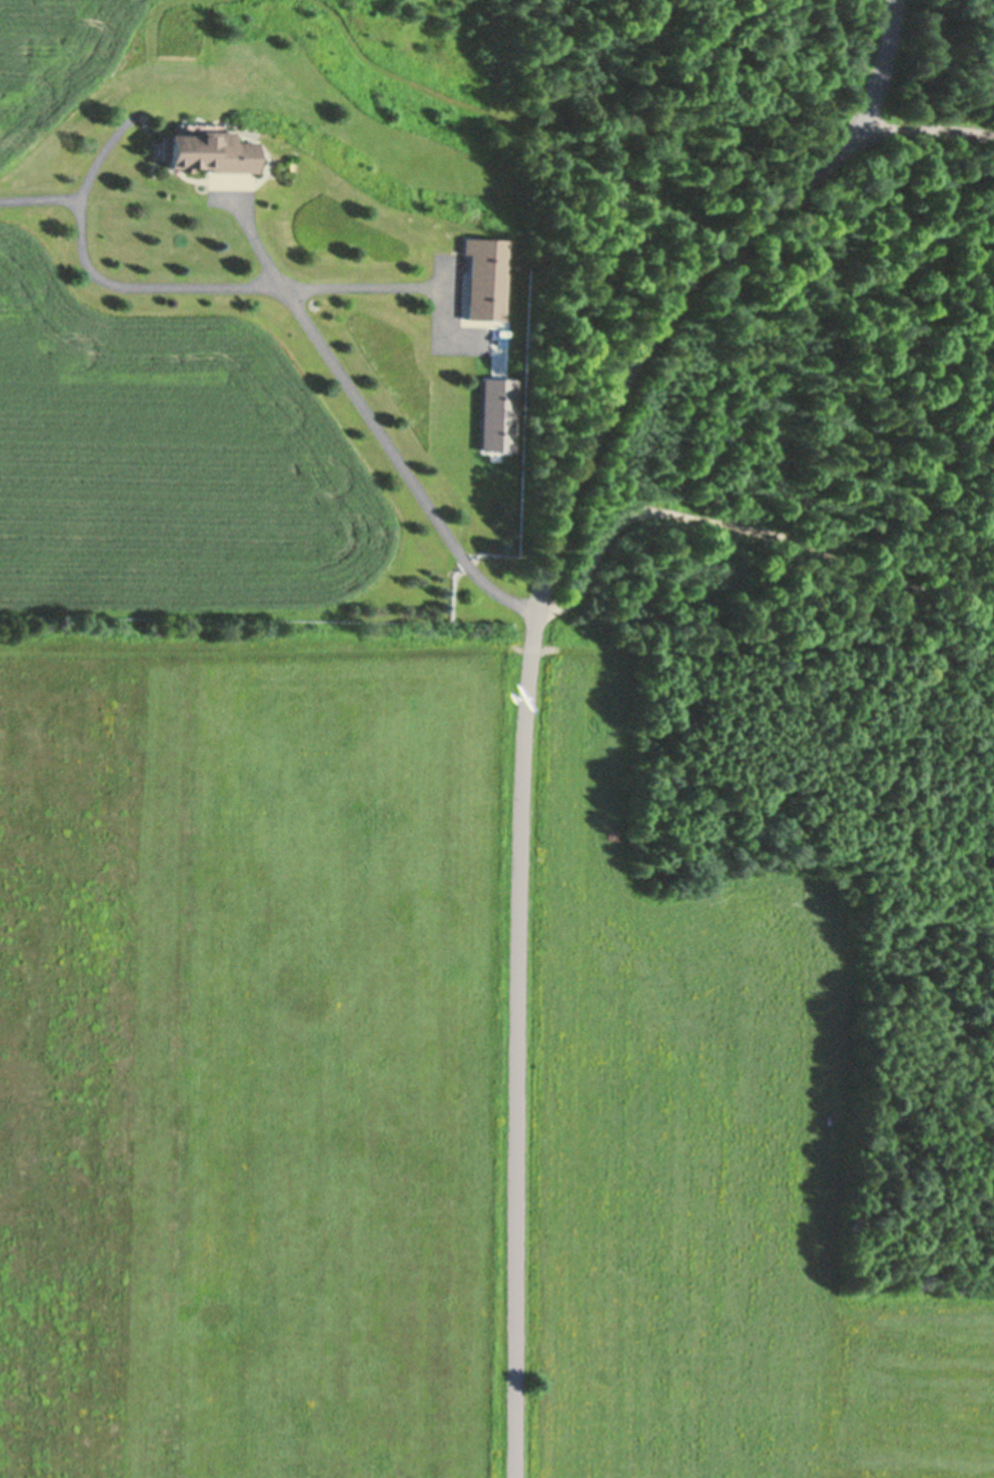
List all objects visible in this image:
road: (881, 62)
road: (928, 129)
building: (209, 149)
road: (39, 200)
building: (484, 278)
road: (180, 287)
road: (373, 423)
road: (523, 741)

